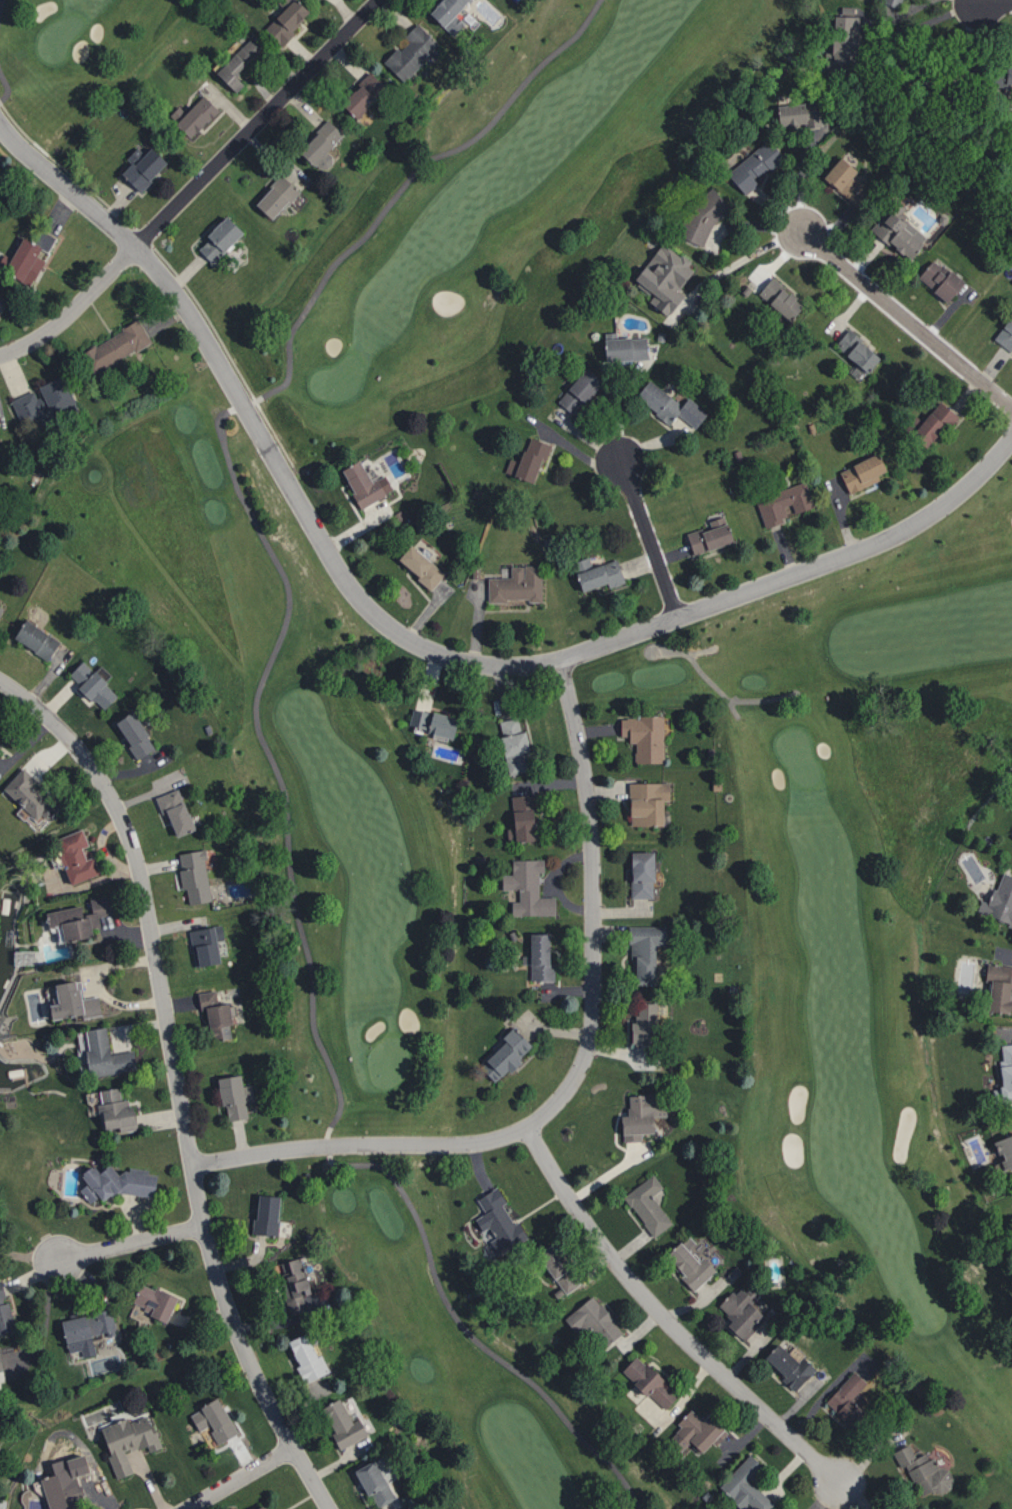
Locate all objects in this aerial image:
road: (995, 2)
building: (893, 3)
road: (1, 4)
building: (442, 10)
building: (281, 18)
road: (929, 21)
building: (843, 40)
building: (408, 53)
building: (232, 65)
park: (54, 67)
building: (1001, 75)
road: (7, 86)
building: (359, 95)
building: (191, 115)
building: (796, 115)
building: (316, 142)
building: (751, 164)
building: (140, 168)
building: (834, 174)
road: (194, 185)
road: (65, 186)
building: (273, 196)
building: (699, 216)
building: (892, 229)
building: (212, 239)
building: (24, 258)
road: (741, 262)
building: (658, 279)
building: (936, 279)
building: (776, 298)
road: (906, 318)
building: (1004, 333)
building: (112, 347)
building: (622, 349)
building: (853, 351)
building: (575, 389)
building: (39, 401)
road: (243, 403)
building: (665, 403)
building: (930, 423)
building: (527, 459)
building: (860, 471)
building: (362, 483)
building: (780, 503)
building: (706, 536)
road: (649, 538)
building: (421, 564)
building: (596, 572)
building: (518, 584)
building: (1, 608)
building: (37, 638)
road: (701, 650)
road: (495, 665)
building: (94, 684)
road: (715, 687)
road: (733, 706)
building: (433, 723)
building: (136, 735)
park: (613, 735)
building: (645, 735)
building: (514, 745)
building: (30, 796)
building: (648, 801)
building: (175, 812)
building: (523, 816)
building: (76, 856)
building: (642, 873)
building: (196, 877)
building: (528, 887)
building: (1002, 901)
building: (80, 918)
building: (205, 945)
building: (644, 952)
building: (541, 958)
building: (999, 987)
building: (74, 1001)
building: (216, 1014)
building: (648, 1022)
building: (506, 1052)
building: (102, 1053)
building: (1006, 1069)
road: (578, 1070)
road: (177, 1082)
building: (93, 1097)
building: (232, 1097)
building: (116, 1110)
building: (642, 1115)
building: (1004, 1150)
building: (117, 1182)
road: (401, 1187)
road: (323, 1190)
building: (648, 1205)
building: (267, 1215)
building: (498, 1222)
road: (130, 1243)
road: (28, 1255)
building: (690, 1265)
building: (558, 1267)
building: (294, 1282)
building: (2, 1291)
building: (154, 1300)
building: (743, 1308)
building: (6, 1318)
road: (665, 1319)
building: (594, 1321)
road: (43, 1323)
building: (86, 1330)
building: (307, 1357)
building: (0, 1363)
building: (789, 1365)
building: (649, 1382)
building: (842, 1384)
building: (848, 1398)
building: (215, 1420)
building: (343, 1424)
building: (697, 1431)
building: (129, 1440)
building: (922, 1465)
road: (239, 1478)
building: (375, 1483)
building: (746, 1485)
building: (63, 1490)
building: (262, 1507)

